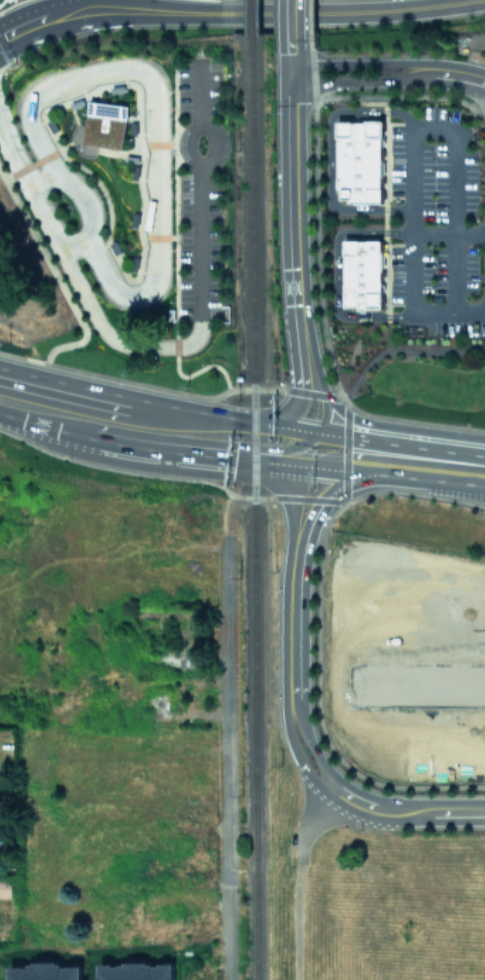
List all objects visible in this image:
road: (291, 13)
railway: (250, 17)
road: (292, 17)
road: (48, 26)
road: (292, 54)
road: (359, 64)
traffic signals: (293, 73)
road: (456, 75)
road: (360, 81)
road: (200, 92)
road: (157, 120)
building: (105, 123)
road: (216, 142)
road: (456, 146)
road: (97, 148)
road: (329, 154)
road: (12, 159)
building: (359, 160)
road: (30, 162)
road: (38, 178)
parking lot: (197, 193)
road: (140, 195)
road: (86, 200)
road: (294, 207)
road: (44, 220)
parking lot: (434, 222)
road: (448, 232)
road: (199, 245)
road: (73, 249)
road: (335, 272)
building: (361, 272)
railway: (251, 273)
road: (411, 273)
road: (54, 276)
road: (173, 280)
road: (448, 314)
road: (111, 341)
road: (401, 349)
road: (301, 366)
road: (315, 368)
road: (114, 378)
road: (310, 392)
road: (289, 411)
road: (156, 412)
road: (324, 415)
road: (18, 419)
road: (399, 428)
traffic signals: (315, 433)
road: (329, 443)
road: (345, 446)
road: (143, 449)
road: (285, 451)
traffic signals: (343, 454)
road: (367, 456)
road: (297, 462)
road: (438, 465)
road: (161, 469)
road: (310, 470)
road: (330, 491)
road: (291, 524)
road: (291, 626)
road: (310, 744)
railway: (252, 746)
road: (293, 751)
road: (225, 757)
road: (403, 812)
road: (304, 820)
building: (5, 888)
building: (44, 971)
building: (134, 971)

